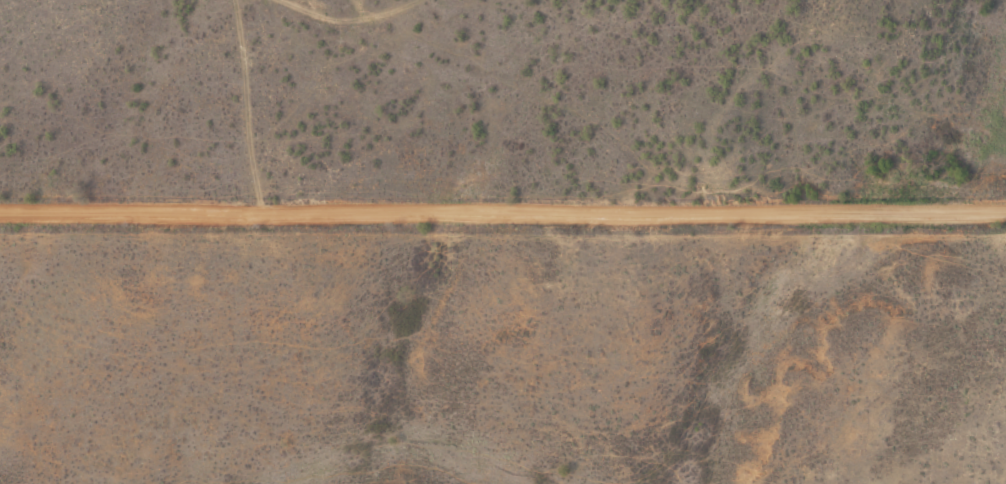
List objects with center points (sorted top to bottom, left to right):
road: (503, 212)

